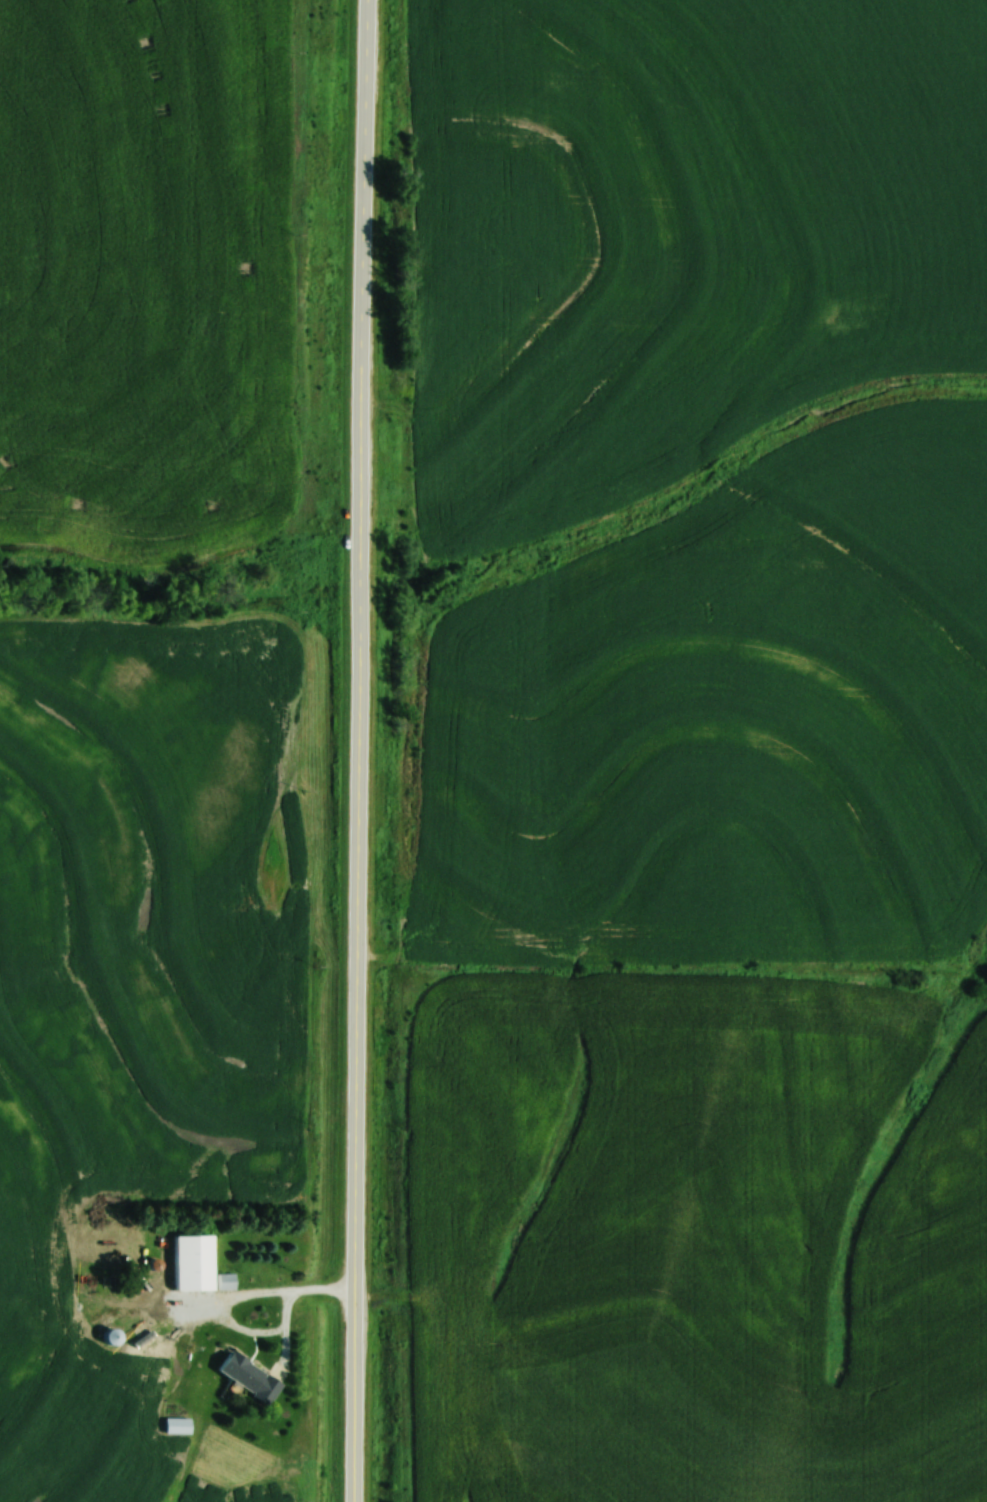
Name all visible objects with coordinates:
road: (356, 750)
building: (107, 1252)
building: (196, 1262)
building: (116, 1336)
building: (251, 1375)
building: (179, 1425)

